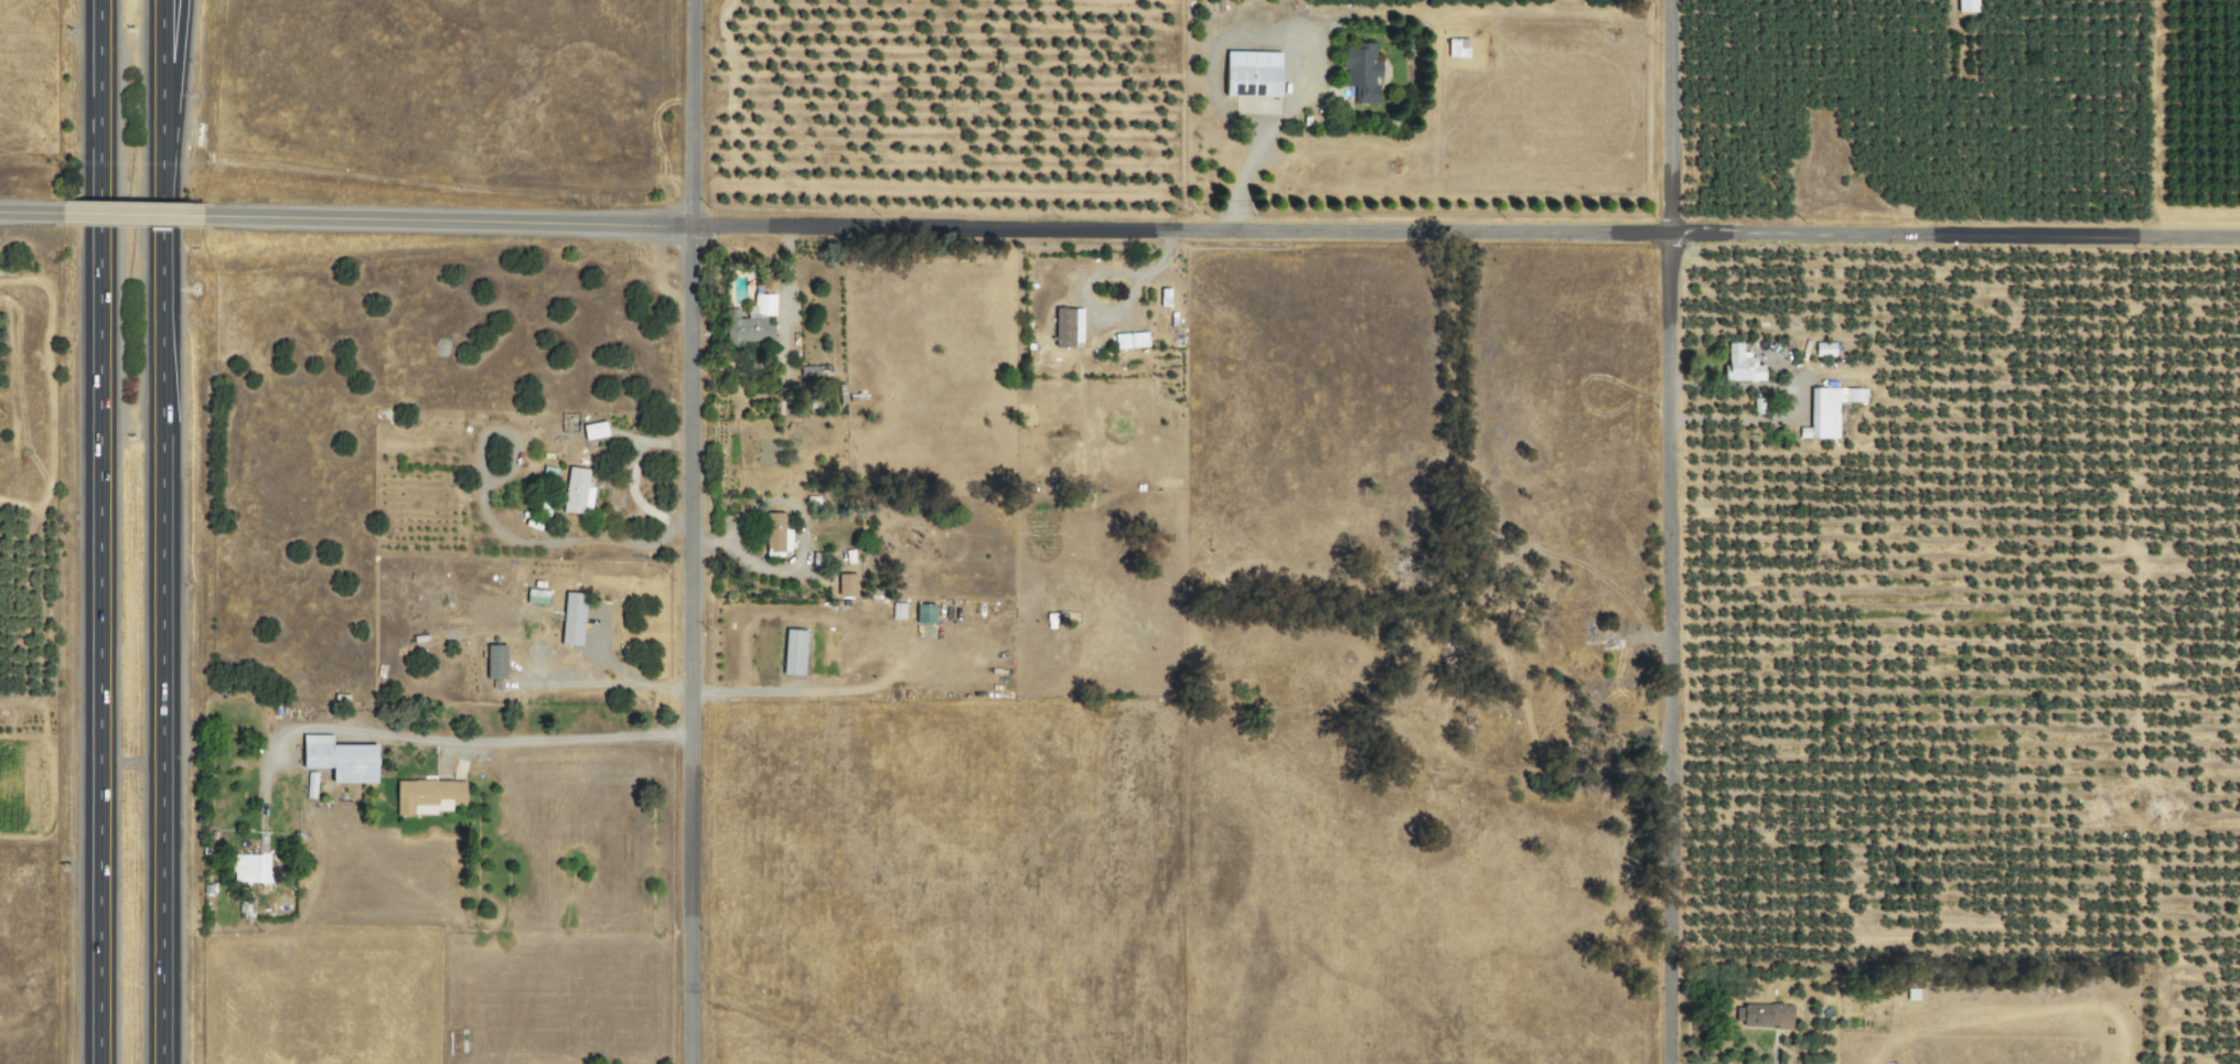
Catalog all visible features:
building: (1965, 6)
building: (1355, 72)
building: (1245, 74)
road: (171, 90)
road: (29, 213)
road: (129, 215)
road: (1220, 229)
building: (755, 322)
building: (1070, 327)
building: (1129, 341)
building: (1737, 365)
building: (816, 372)
building: (1823, 411)
building: (594, 430)
road: (94, 531)
road: (160, 531)
road: (685, 531)
road: (1666, 531)
building: (778, 534)
building: (848, 585)
building: (897, 611)
building: (926, 614)
building: (575, 620)
building: (796, 653)
building: (497, 663)
road: (608, 684)
road: (493, 740)
building: (344, 760)
building: (431, 797)
building: (251, 868)
building: (1759, 1015)

